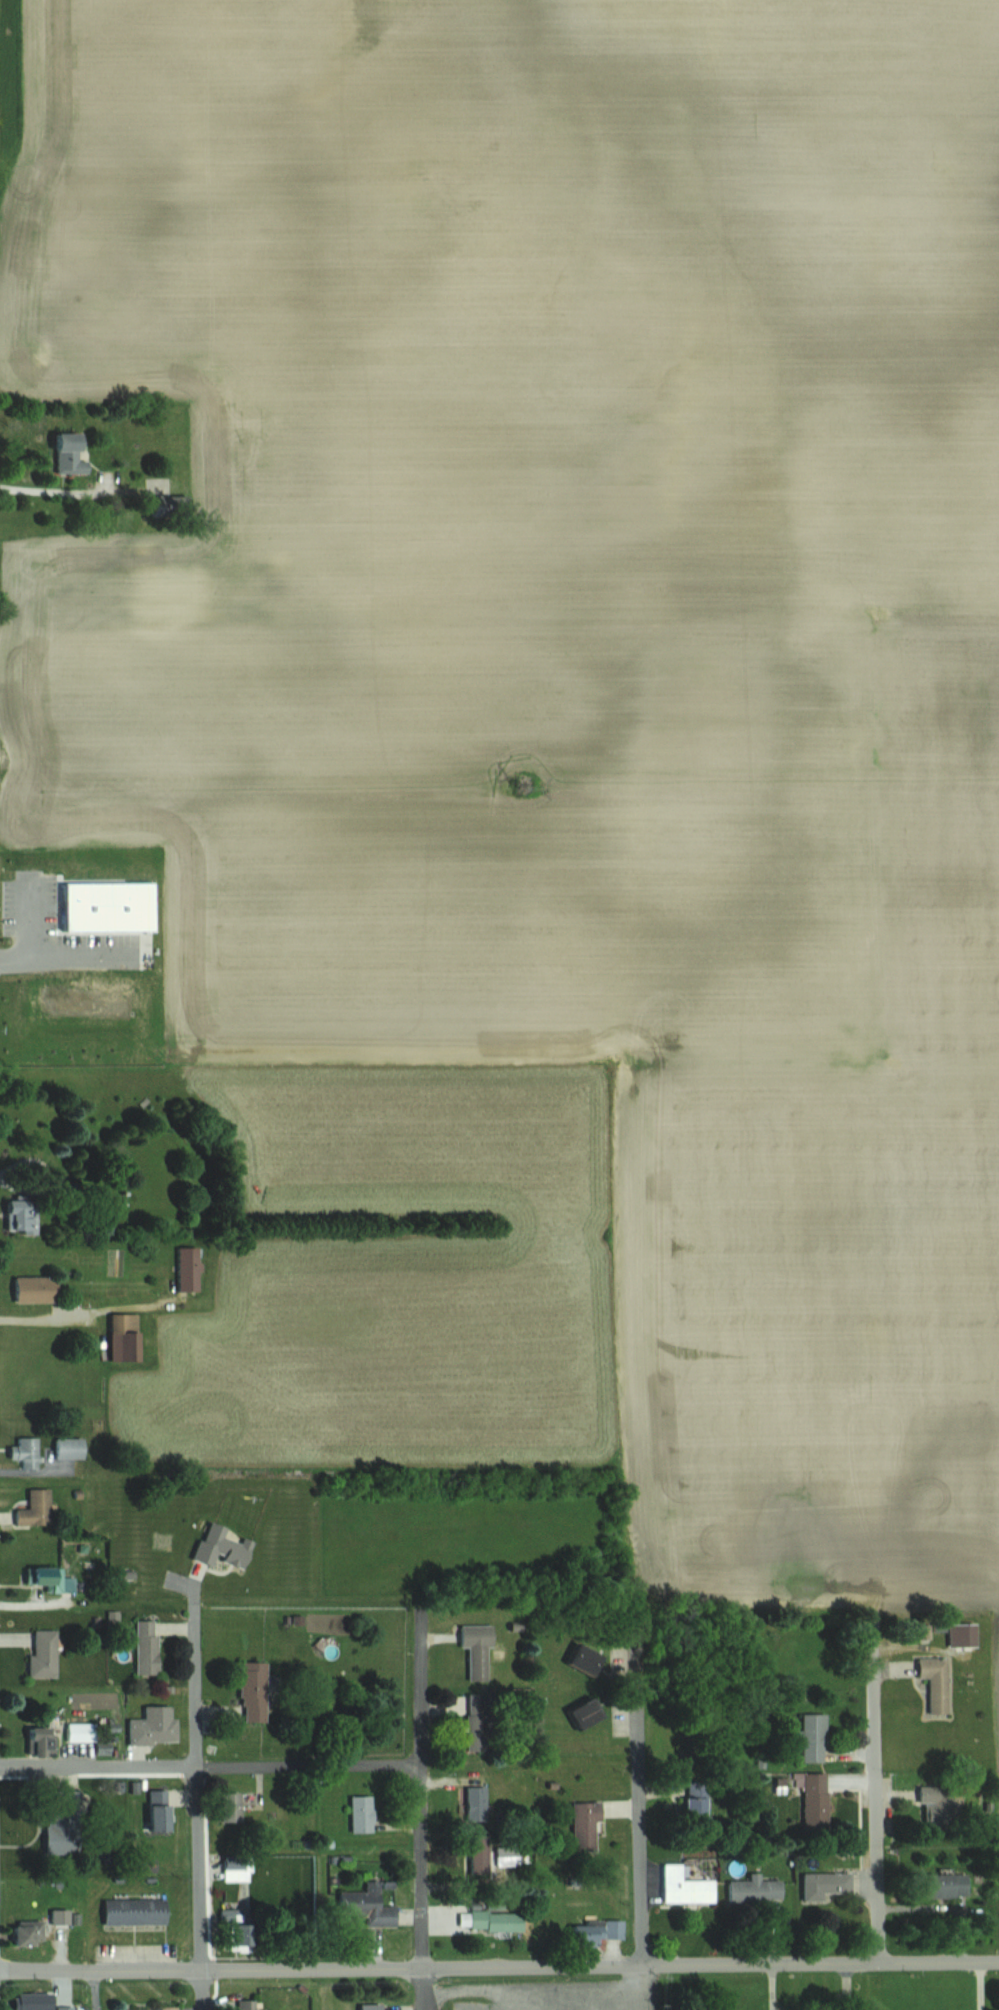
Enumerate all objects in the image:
building: (76, 453)
road: (54, 492)
road: (67, 957)
building: (17, 1218)
building: (184, 1269)
building: (28, 1289)
road: (44, 1319)
building: (123, 1337)
building: (23, 1452)
building: (32, 1509)
road: (31, 1600)
building: (143, 1647)
building: (473, 1650)
building: (40, 1653)
building: (932, 1683)
building: (249, 1692)
building: (578, 1713)
building: (150, 1727)
building: (73, 1732)
building: (811, 1738)
road: (211, 1767)
road: (876, 1790)
building: (59, 1800)
building: (812, 1802)
building: (937, 1802)
building: (473, 1804)
building: (694, 1804)
building: (224, 1807)
building: (154, 1810)
road: (200, 1812)
building: (359, 1813)
road: (422, 1816)
building: (580, 1827)
road: (641, 1827)
building: (476, 1855)
building: (821, 1885)
building: (941, 1885)
building: (682, 1886)
building: (753, 1889)
building: (369, 1902)
building: (139, 1911)
building: (63, 1916)
building: (495, 1920)
building: (590, 1931)
building: (32, 1932)
road: (499, 1968)
road: (979, 1986)
road: (472, 1994)
building: (36, 2000)
building: (367, 2006)
building: (148, 2008)

